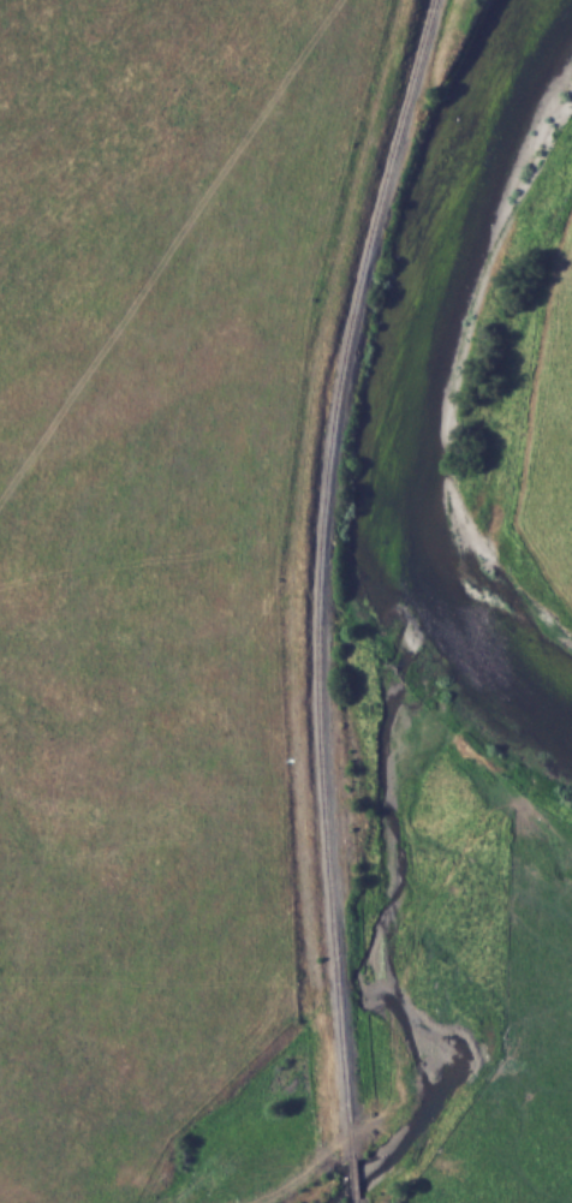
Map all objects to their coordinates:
river: (412, 379)
railway: (327, 572)
railway: (353, 1178)
railway: (356, 1201)

